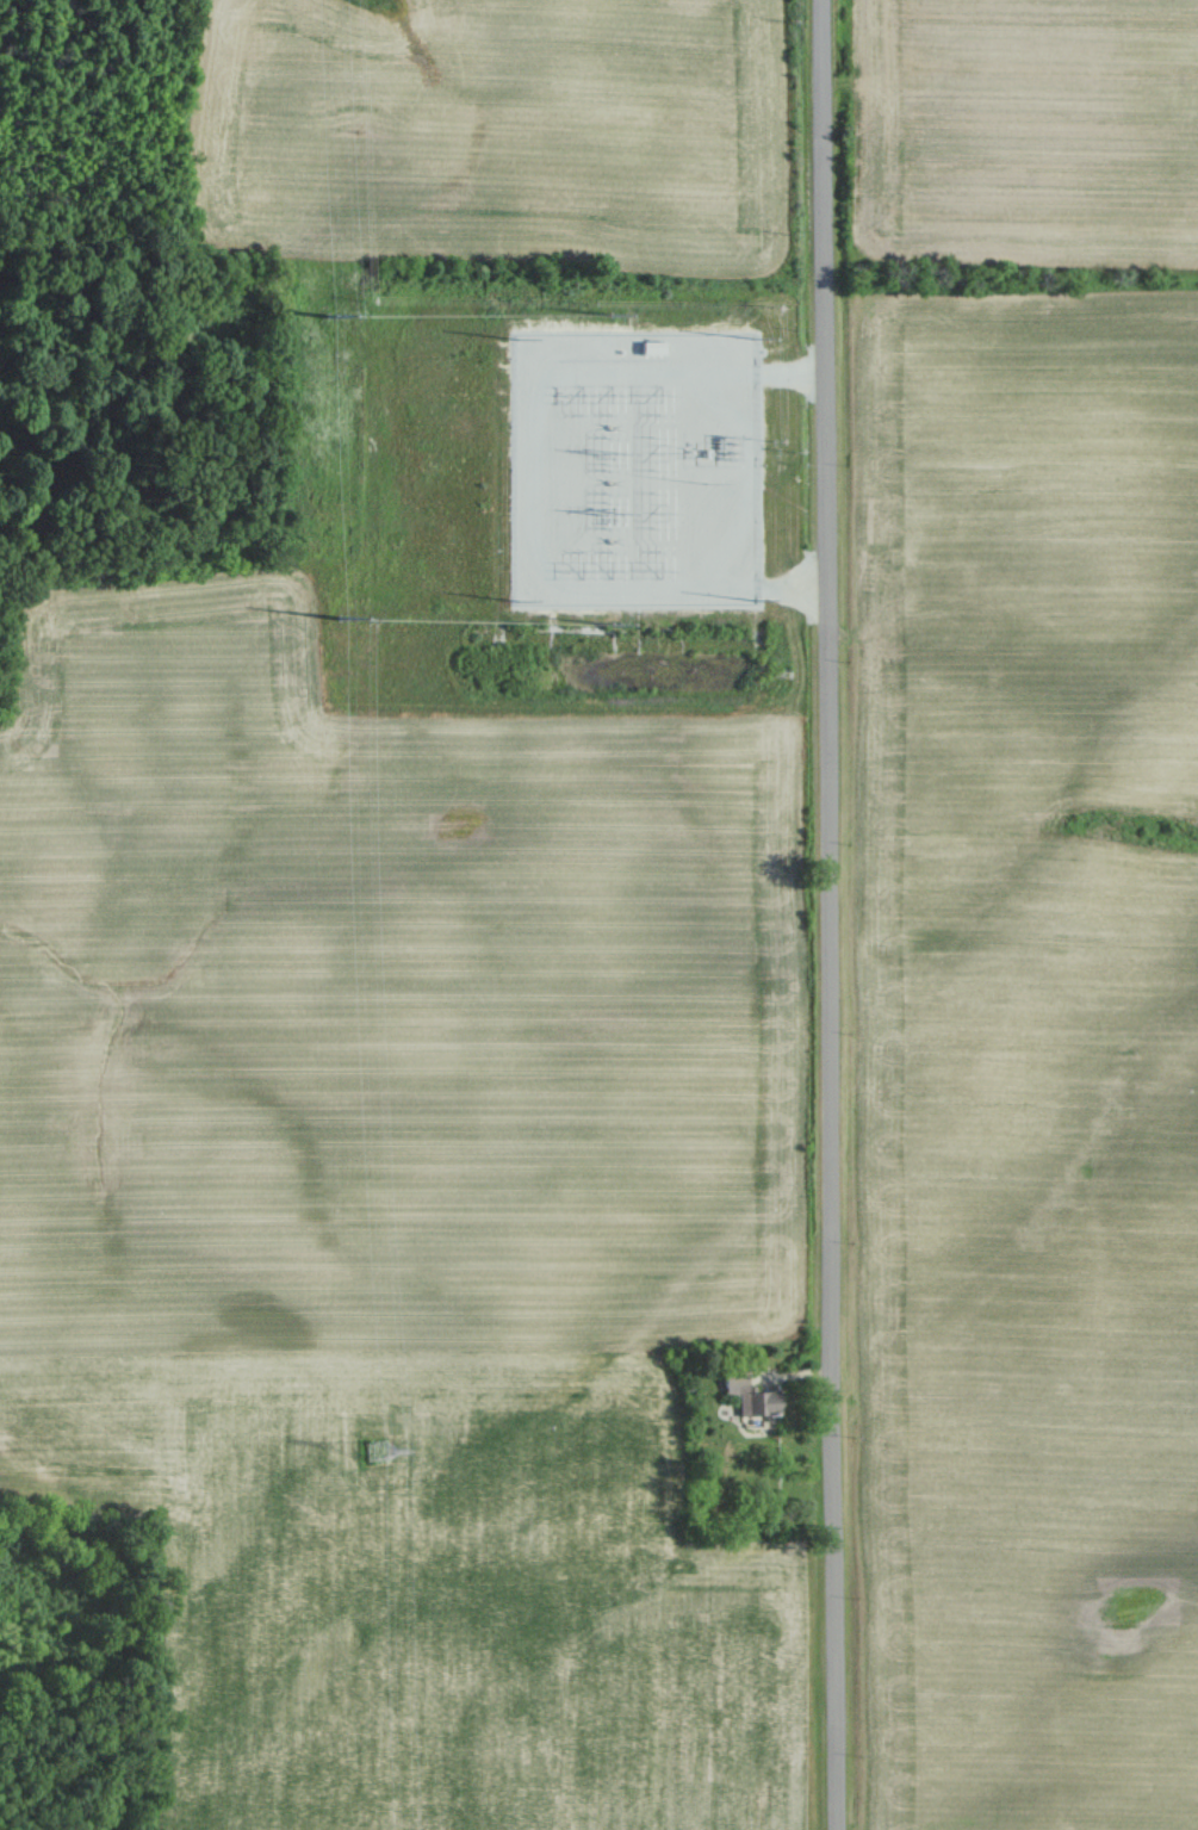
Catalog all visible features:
road: (828, 914)
power tower: (375, 1450)

